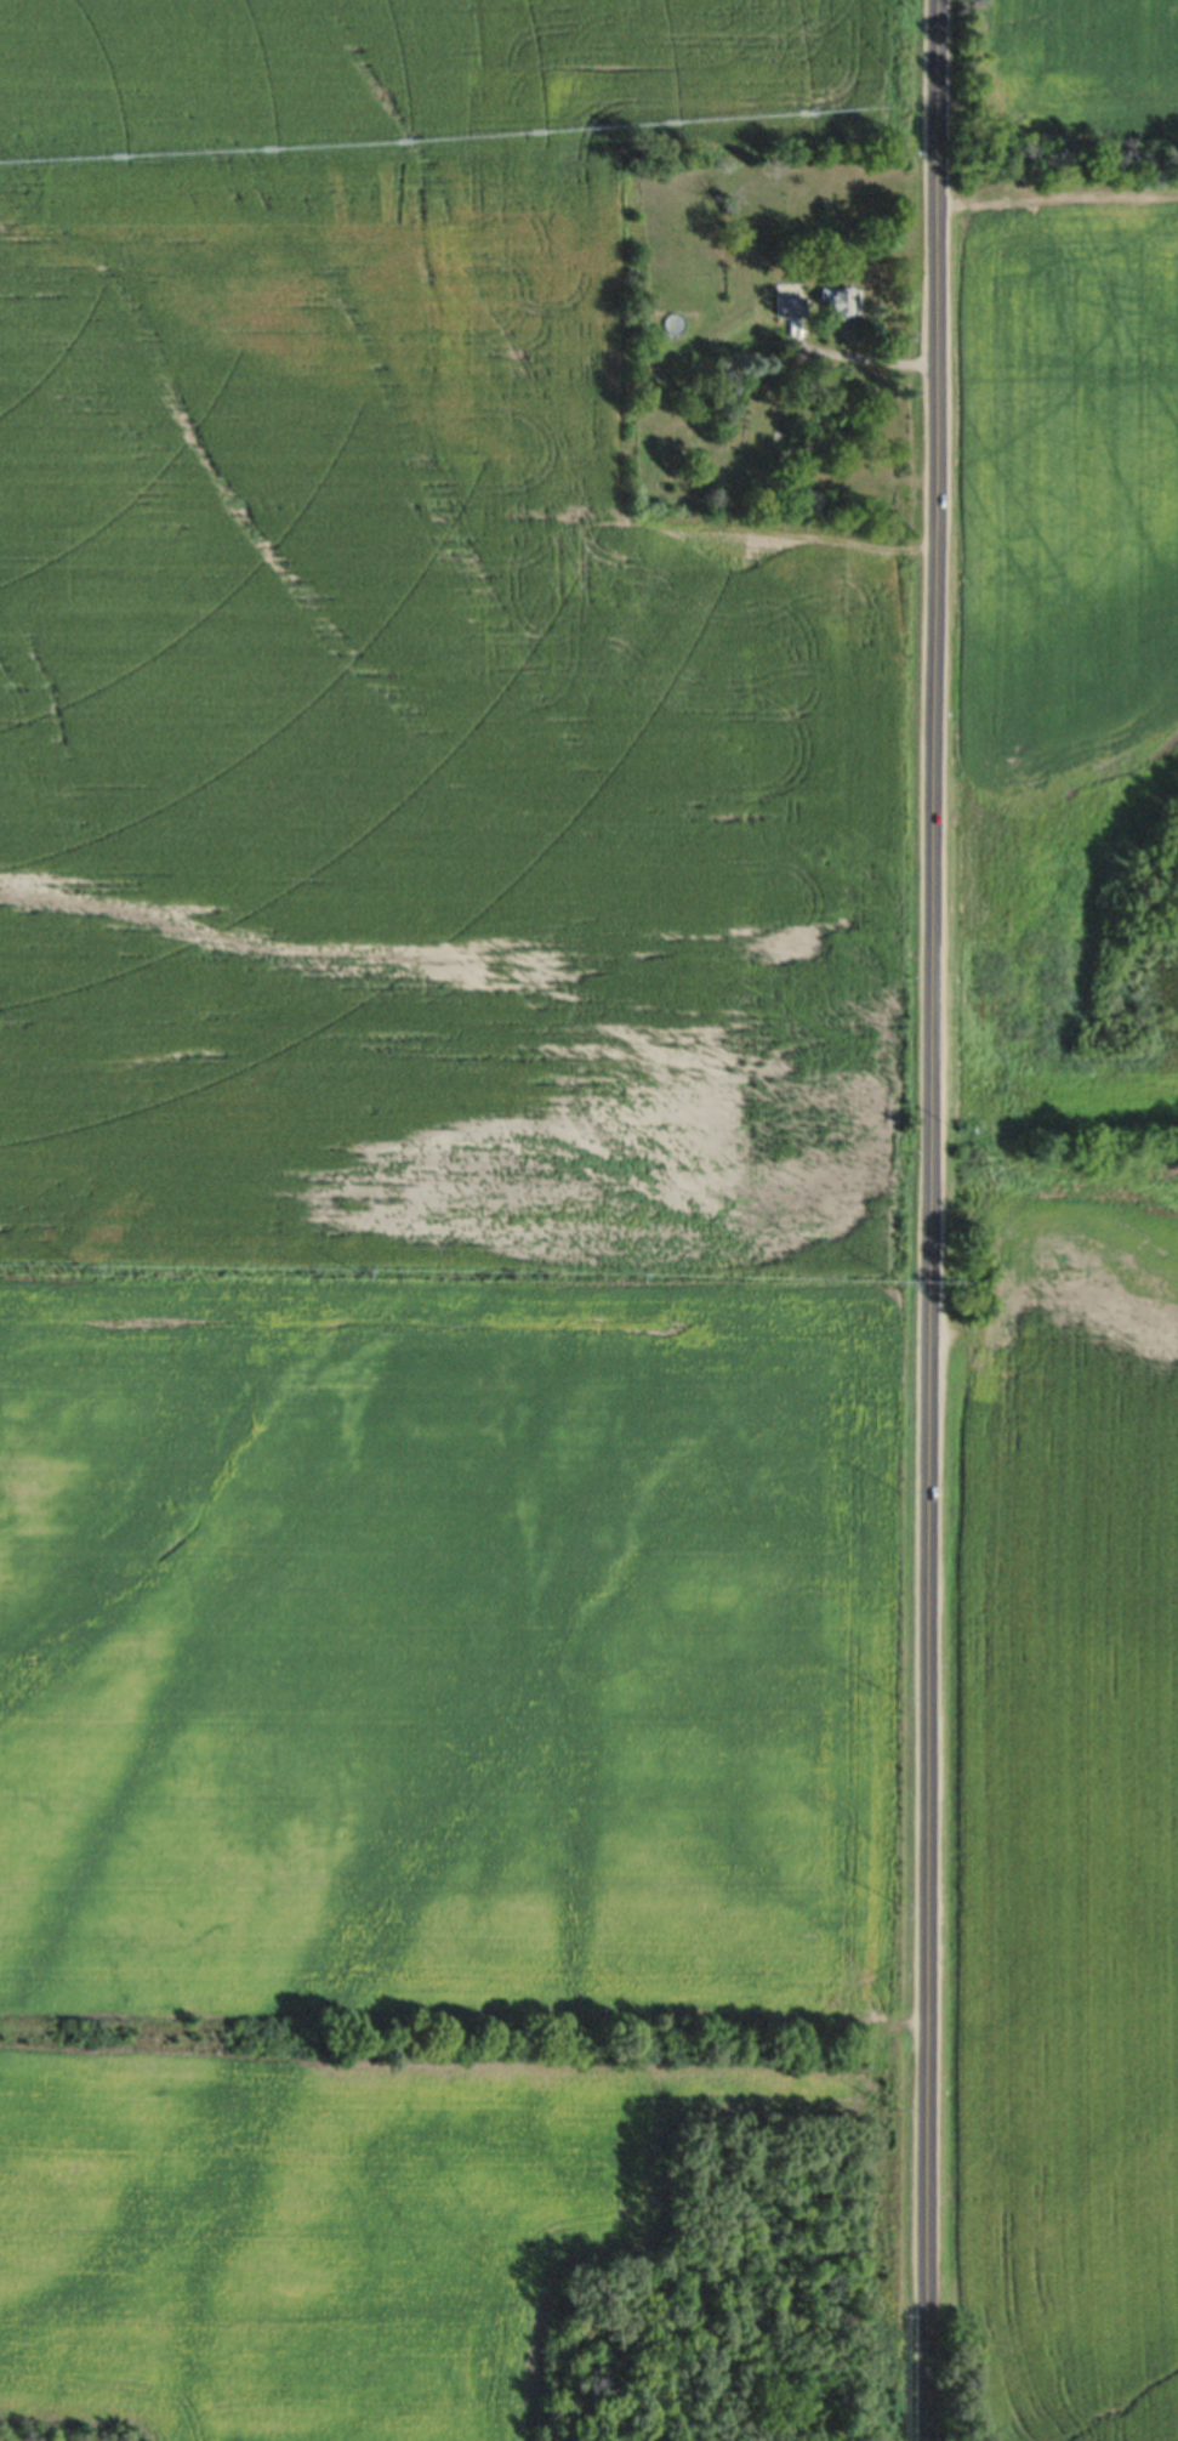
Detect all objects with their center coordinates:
building: (836, 301)
road: (924, 1220)

